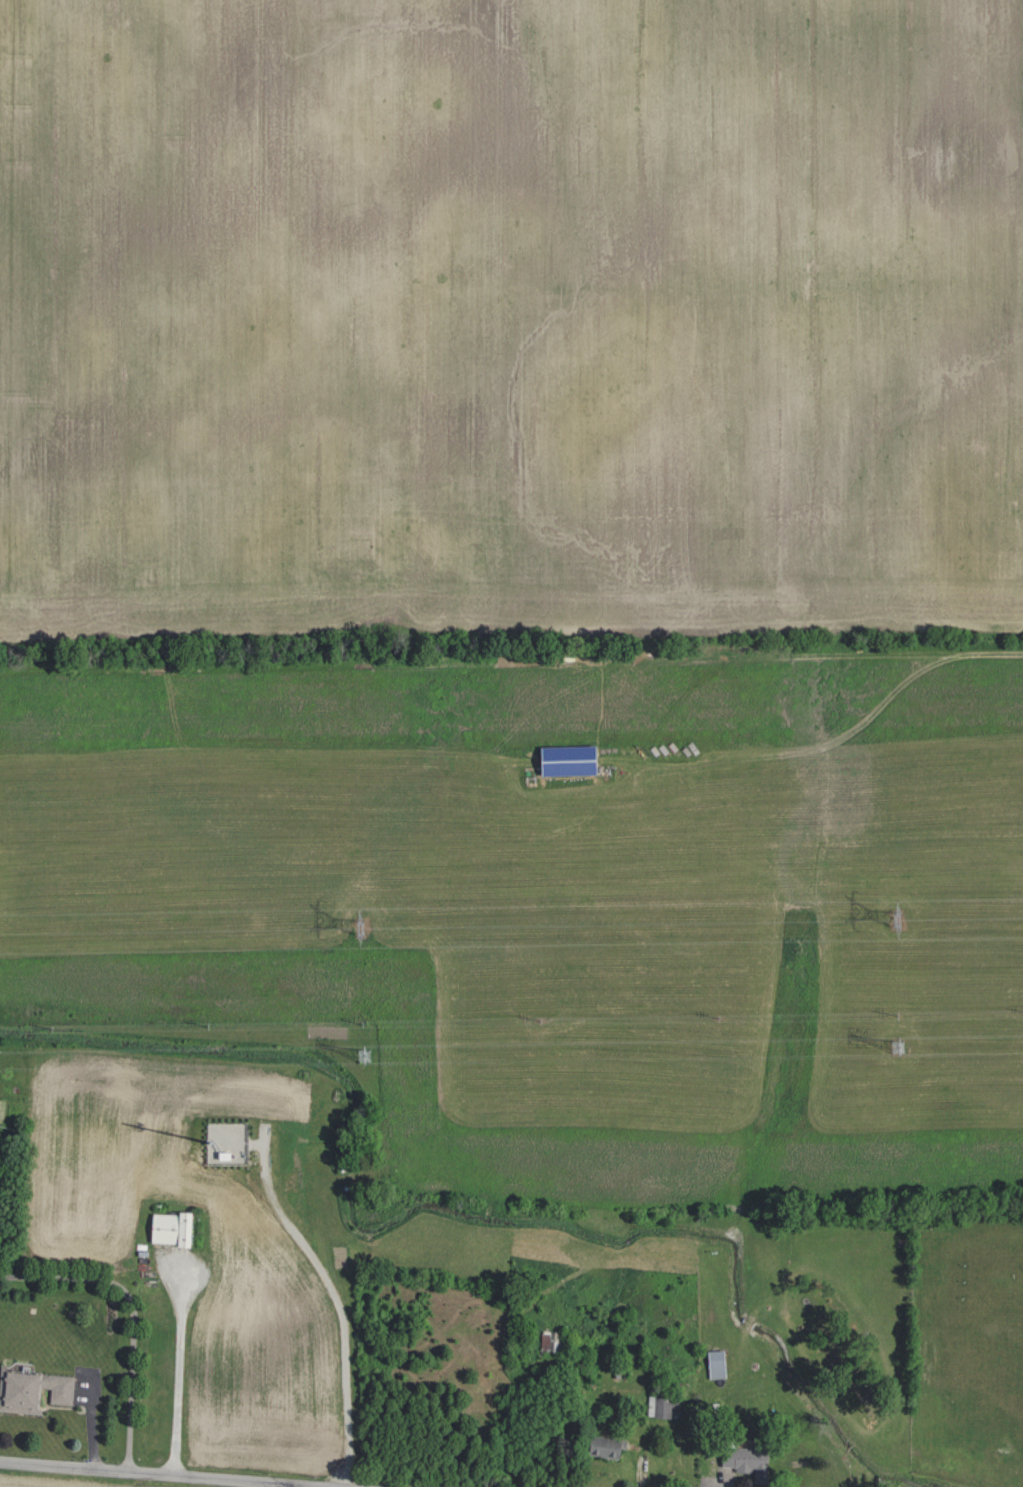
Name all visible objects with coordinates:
road: (832, 742)
building: (562, 759)
power tower: (897, 918)
power tower: (361, 930)
power tower: (898, 1046)
power tower: (365, 1055)
building: (168, 1228)
road: (338, 1297)
road: (132, 1315)
building: (713, 1363)
road: (179, 1364)
building: (31, 1389)
building: (656, 1406)
building: (600, 1447)
building: (740, 1459)
road: (166, 1474)

